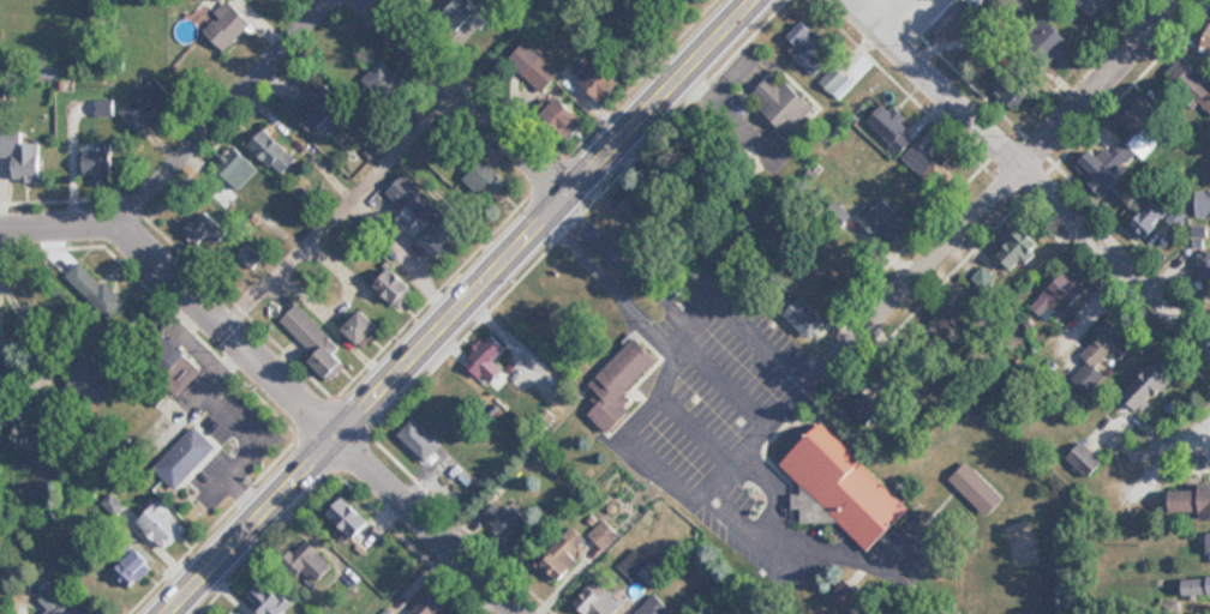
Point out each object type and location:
building: (420, 0)
building: (1000, 1)
building: (977, 2)
building: (499, 7)
building: (1100, 7)
building: (459, 16)
building: (226, 25)
building: (1209, 43)
building: (808, 44)
building: (1056, 44)
building: (534, 66)
building: (382, 78)
building: (834, 79)
building: (600, 80)
building: (1192, 84)
building: (1012, 86)
road: (466, 100)
building: (145, 103)
building: (784, 103)
building: (313, 106)
road: (228, 115)
building: (1144, 115)
building: (562, 118)
building: (893, 127)
building: (435, 139)
building: (274, 151)
building: (20, 155)
building: (97, 161)
building: (233, 163)
building: (929, 163)
building: (1098, 168)
road: (1028, 177)
building: (486, 180)
road: (1012, 183)
building: (1204, 204)
building: (637, 209)
building: (427, 216)
building: (1148, 221)
building: (887, 222)
building: (202, 229)
building: (1019, 248)
building: (248, 257)
building: (1203, 265)
building: (395, 288)
building: (94, 290)
road: (187, 291)
building: (1059, 297)
road: (468, 307)
building: (807, 318)
building: (361, 326)
building: (316, 342)
building: (1102, 353)
road: (37, 354)
building: (484, 354)
building: (90, 377)
building: (621, 384)
building: (1150, 385)
building: (873, 404)
building: (419, 440)
building: (185, 456)
building: (1086, 459)
building: (978, 488)
building: (843, 489)
building: (1191, 502)
building: (349, 517)
building: (163, 524)
building: (510, 524)
road: (429, 528)
road: (1174, 543)
building: (1209, 546)
building: (562, 555)
building: (312, 561)
building: (133, 568)
building: (1196, 586)
building: (266, 597)
building: (598, 602)
building: (58, 604)
building: (429, 604)
building: (653, 606)
building: (233, 613)

